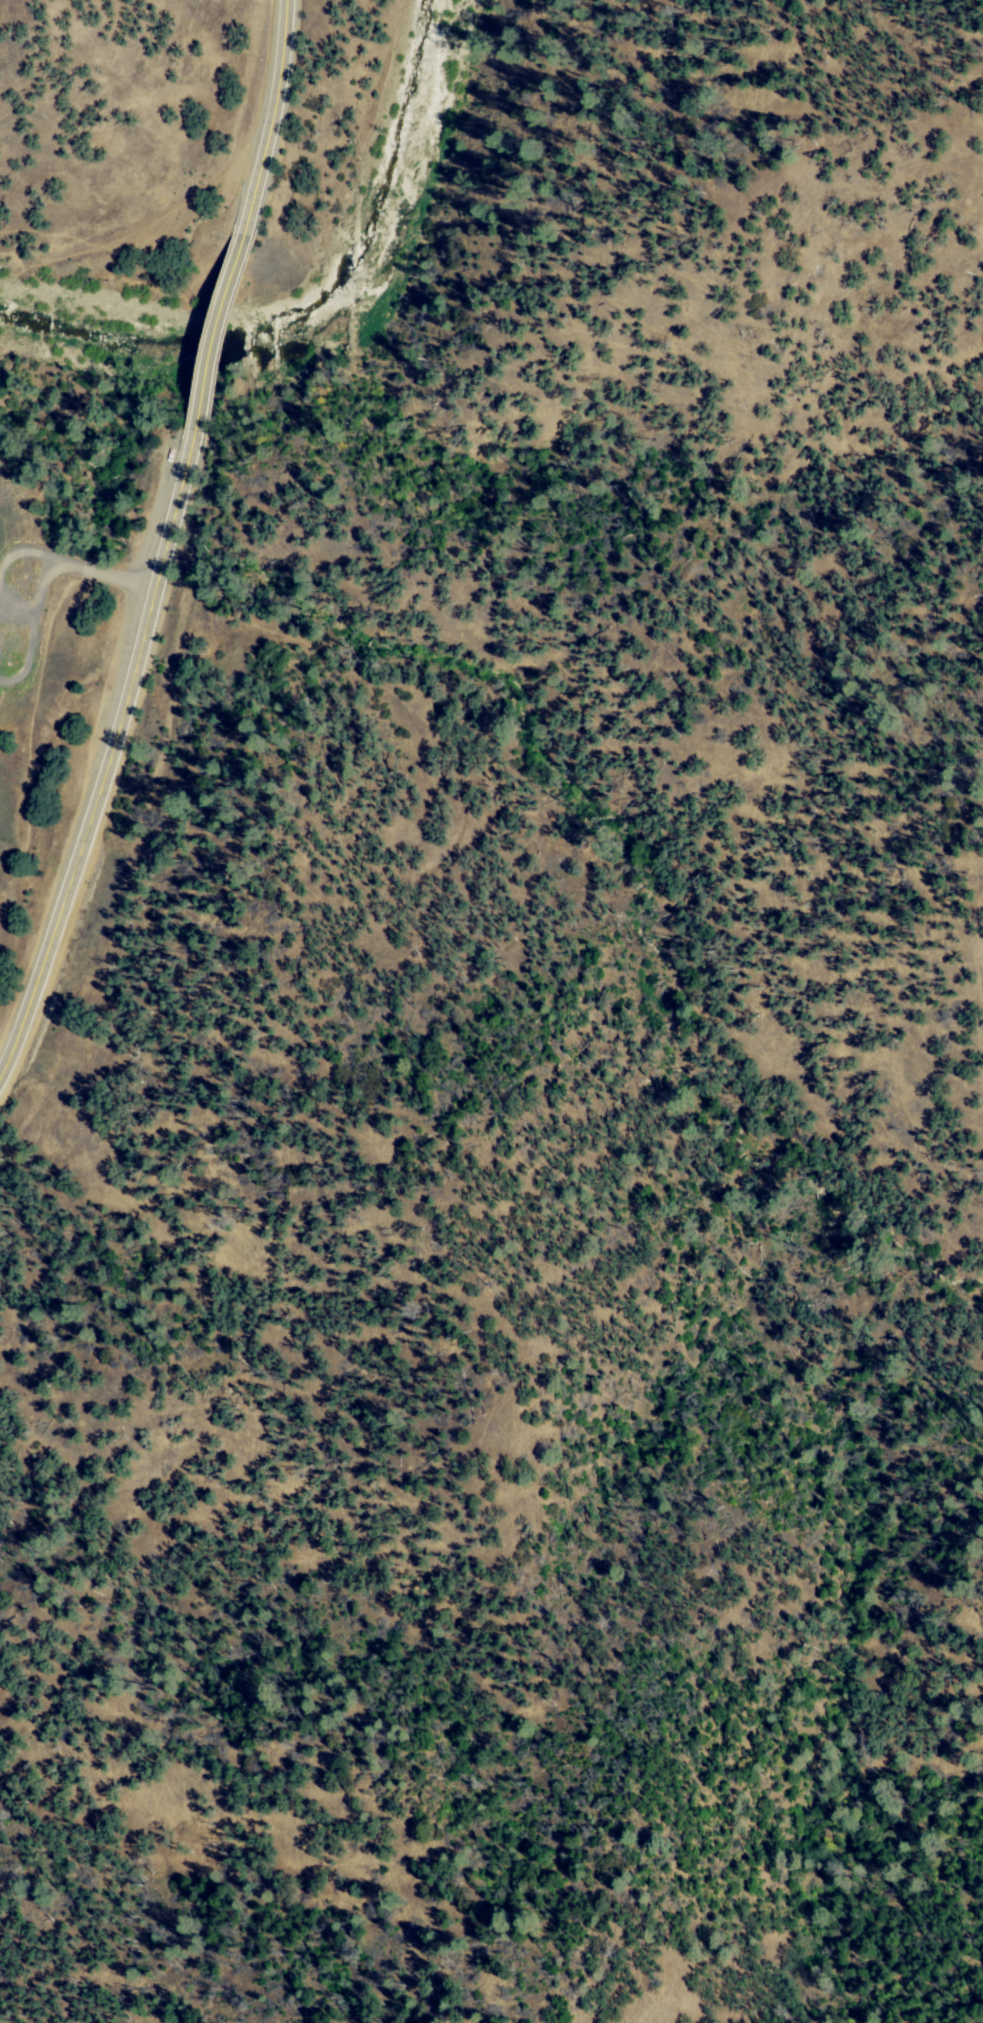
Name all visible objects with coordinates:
road: (271, 112)
road: (217, 349)
road: (79, 564)
parking lot: (14, 608)
road: (100, 779)

